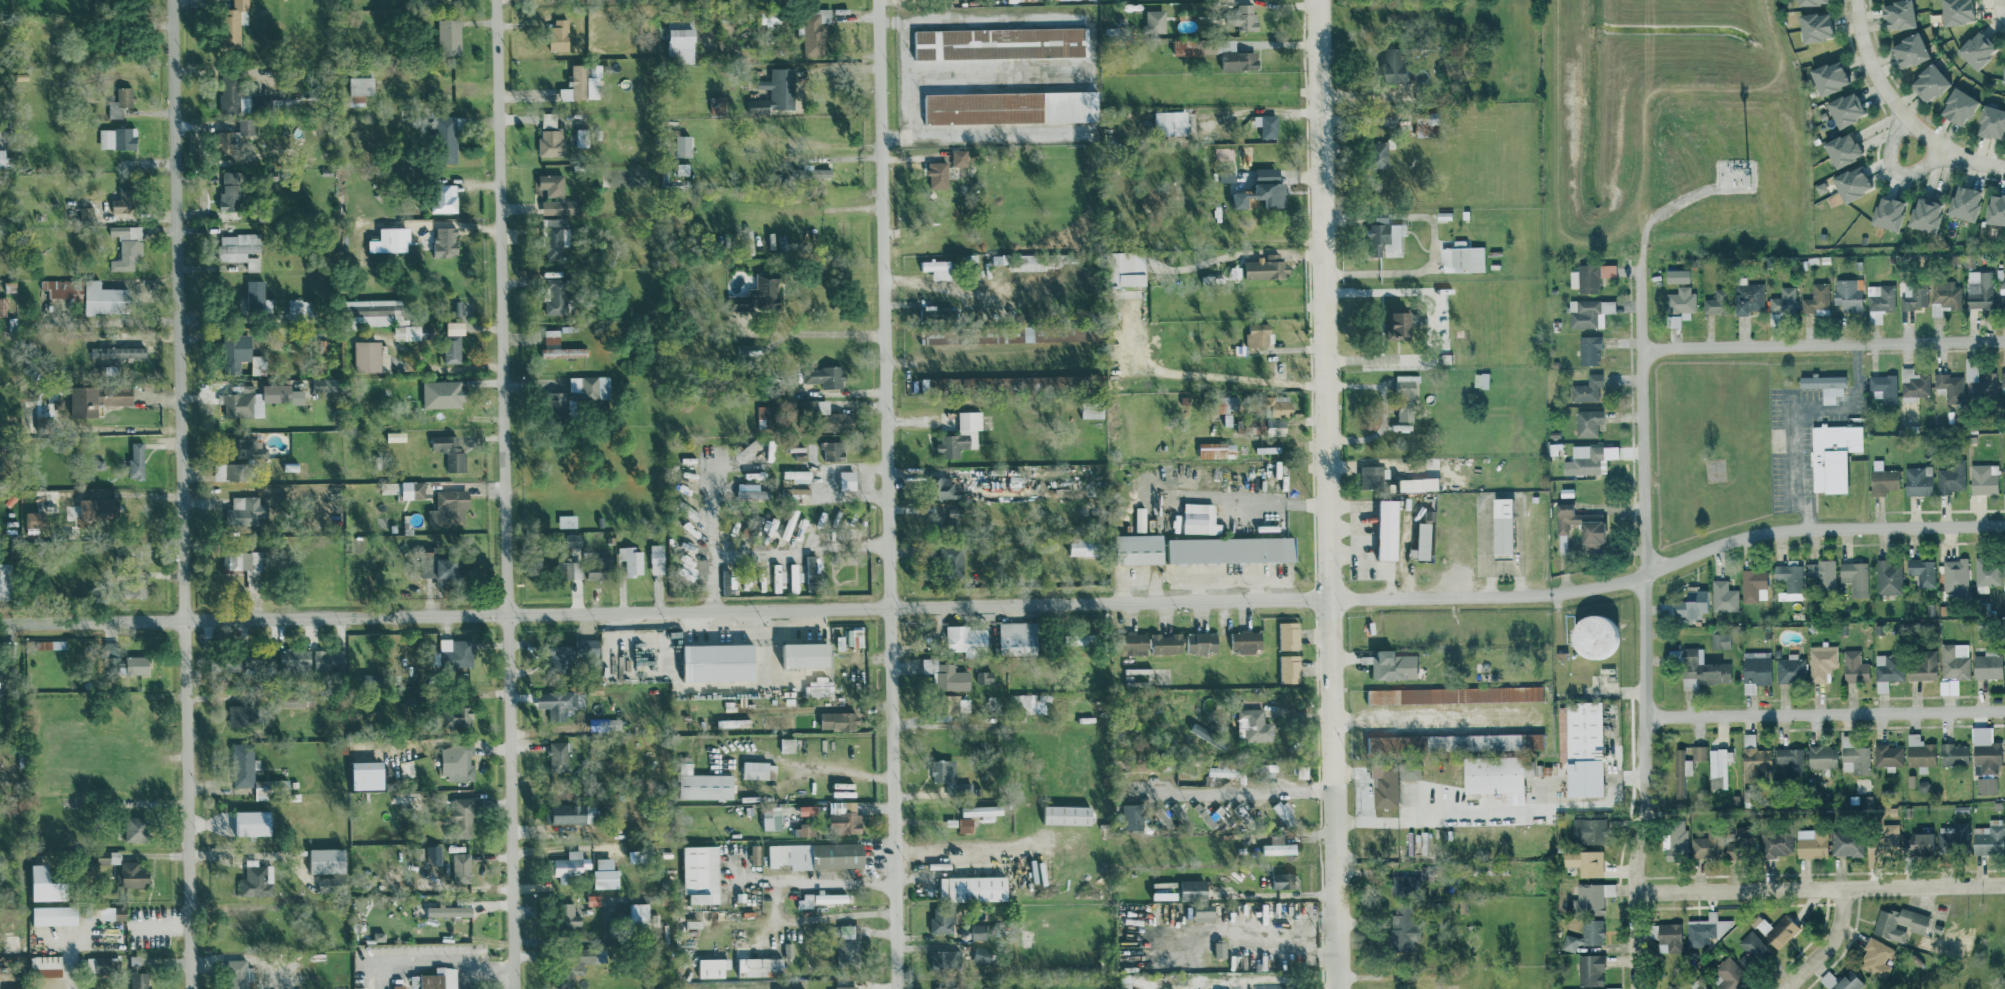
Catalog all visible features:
building: (1025, 0)
building: (1805, 2)
building: (1950, 11)
road: (1999, 11)
building: (1892, 14)
building: (1248, 16)
road: (985, 19)
building: (1156, 20)
road: (2004, 21)
building: (233, 23)
building: (1809, 26)
building: (816, 32)
building: (560, 34)
building: (450, 35)
building: (682, 40)
building: (1000, 42)
building: (1188, 46)
building: (1970, 48)
building: (1903, 50)
building: (1235, 55)
building: (1398, 64)
building: (2001, 67)
road: (1027, 73)
building: (1824, 76)
road: (908, 79)
building: (1923, 82)
building: (584, 83)
building: (361, 87)
building: (230, 91)
building: (776, 92)
building: (121, 102)
building: (1012, 106)
building: (1952, 107)
building: (1841, 108)
road: (1899, 111)
building: (549, 120)
building: (1174, 123)
building: (1268, 125)
building: (234, 136)
road: (985, 136)
building: (581, 137)
building: (117, 138)
building: (446, 139)
building: (552, 142)
building: (1838, 149)
building: (1380, 155)
building: (3, 157)
road: (1894, 169)
building: (817, 172)
building: (941, 174)
building: (1227, 175)
building: (1846, 182)
building: (551, 184)
building: (1265, 189)
building: (230, 191)
building: (445, 197)
building: (123, 199)
building: (1958, 202)
building: (563, 206)
building: (1993, 209)
building: (1918, 214)
building: (556, 238)
building: (390, 239)
building: (1386, 239)
building: (446, 241)
building: (127, 246)
building: (241, 249)
building: (1464, 259)
building: (1268, 267)
building: (939, 268)
building: (1126, 269)
road: (1416, 270)
building: (1610, 270)
building: (1679, 276)
building: (1588, 278)
building: (64, 288)
building: (1976, 289)
road: (1378, 290)
building: (1944, 293)
building: (556, 295)
building: (757, 295)
building: (1845, 295)
building: (1912, 295)
building: (258, 297)
building: (1751, 297)
building: (1880, 297)
building: (105, 298)
building: (1814, 299)
building: (1683, 300)
building: (1781, 301)
building: (1720, 302)
building: (3, 305)
building: (299, 307)
building: (459, 308)
building: (1591, 312)
building: (382, 316)
building: (1402, 324)
building: (456, 327)
road: (812, 333)
building: (1259, 335)
road: (1824, 344)
building: (560, 347)
building: (453, 349)
building: (752, 350)
building: (1591, 350)
building: (117, 352)
building: (236, 352)
building: (368, 356)
road: (1409, 356)
building: (386, 360)
road: (1203, 373)
building: (826, 376)
building: (2001, 379)
building: (1483, 380)
building: (326, 384)
building: (1911, 384)
building: (1981, 384)
building: (1945, 385)
building: (590, 386)
building: (1821, 386)
building: (1590, 388)
building: (1881, 388)
building: (443, 393)
building: (282, 394)
building: (1407, 397)
building: (98, 399)
building: (58, 403)
building: (243, 403)
building: (1232, 403)
building: (1280, 404)
building: (558, 405)
building: (1093, 409)
building: (765, 411)
road: (1795, 414)
building: (830, 415)
building: (1590, 423)
building: (1277, 425)
building: (1403, 427)
building: (962, 435)
building: (397, 436)
building: (834, 450)
building: (1218, 450)
building: (451, 452)
building: (1830, 456)
building: (137, 460)
building: (241, 460)
building: (1587, 460)
building: (799, 475)
building: (1372, 476)
building: (1948, 477)
building: (1981, 478)
building: (2002, 478)
building: (849, 480)
building: (1915, 480)
building: (1423, 484)
building: (946, 487)
building: (414, 490)
building: (751, 491)
road: (183, 494)
road: (502, 494)
building: (797, 494)
road: (889, 494)
road: (1330, 494)
building: (2002, 498)
building: (99, 508)
building: (450, 508)
building: (246, 510)
building: (1141, 519)
building: (1201, 519)
building: (567, 521)
road: (714, 521)
building: (790, 523)
building: (770, 525)
building: (1507, 526)
building: (1585, 526)
road: (1810, 528)
building: (1389, 529)
building: (574, 540)
building: (1425, 541)
building: (1087, 546)
building: (1141, 548)
road: (802, 549)
building: (1233, 550)
building: (954, 556)
building: (657, 558)
building: (632, 560)
building: (246, 565)
building: (439, 566)
building: (566, 570)
building: (596, 571)
building: (1921, 571)
building: (1819, 573)
building: (1985, 575)
building: (1954, 576)
building: (1852, 577)
building: (1887, 577)
building: (1787, 581)
building: (0, 582)
building: (1753, 585)
building: (134, 588)
road: (1478, 593)
building: (1725, 596)
building: (1696, 603)
road: (666, 609)
road: (1643, 622)
building: (857, 635)
building: (1290, 635)
building: (1600, 635)
building: (1019, 637)
building: (967, 638)
building: (1247, 640)
building: (1722, 640)
building: (1203, 642)
building: (1134, 643)
building: (1168, 643)
building: (52, 644)
building: (456, 651)
building: (806, 653)
building: (296, 658)
building: (114, 659)
building: (329, 659)
building: (721, 661)
building: (1819, 661)
building: (1952, 661)
building: (1393, 664)
building: (138, 665)
building: (1919, 665)
building: (1852, 666)
building: (1985, 666)
building: (1290, 668)
building: (1703, 669)
building: (1789, 669)
building: (1758, 670)
building: (1884, 671)
building: (947, 675)
building: (986, 676)
building: (1946, 686)
building: (1456, 694)
building: (299, 697)
building: (560, 702)
building: (1032, 702)
road: (1826, 713)
building: (240, 714)
building: (943, 714)
building: (458, 715)
building: (840, 719)
building: (1254, 725)
building: (1457, 742)
building: (788, 744)
building: (2003, 744)
building: (1585, 746)
building: (1701, 751)
building: (1918, 751)
building: (1982, 751)
building: (1887, 754)
building: (1951, 754)
building: (559, 755)
building: (1826, 756)
building: (1856, 756)
building: (1793, 759)
building: (459, 762)
building: (1759, 762)
building: (244, 764)
building: (1141, 764)
building: (1721, 766)
building: (407, 768)
building: (760, 769)
building: (1229, 770)
building: (1267, 770)
building: (1681, 772)
building: (369, 774)
building: (947, 774)
building: (1499, 774)
road: (849, 775)
building: (1391, 781)
building: (704, 783)
building: (1983, 786)
building: (263, 789)
road: (1259, 792)
building: (1750, 793)
building: (1281, 807)
building: (808, 809)
building: (983, 809)
building: (463, 813)
building: (568, 813)
building: (1069, 813)
building: (1205, 813)
building: (1132, 815)
building: (1173, 815)
building: (773, 819)
building: (847, 821)
building: (254, 822)
building: (966, 824)
building: (136, 828)
building: (807, 828)
building: (1591, 828)
road: (1307, 834)
building: (2004, 834)
building: (1955, 836)
building: (1989, 836)
building: (1850, 841)
building: (1922, 842)
building: (1765, 843)
building: (1816, 843)
building: (1709, 844)
building: (1886, 844)
building: (1281, 845)
road: (965, 846)
building: (756, 854)
building: (818, 854)
building: (109, 856)
building: (329, 859)
building: (1588, 861)
building: (569, 865)
building: (462, 866)
building: (702, 872)
building: (606, 873)
building: (134, 874)
building: (254, 878)
building: (1284, 879)
building: (47, 883)
building: (974, 887)
building: (1195, 888)
road: (1821, 889)
building: (1165, 890)
building: (1594, 897)
building: (821, 898)
road: (778, 901)
building: (248, 908)
building: (449, 910)
building: (640, 911)
building: (113, 912)
building: (1204, 912)
building: (55, 914)
building: (570, 915)
building: (943, 920)
building: (1902, 922)
building: (1405, 925)
building: (248, 927)
building: (1706, 929)
building: (1785, 929)
building: (980, 930)
road: (1244, 933)
building: (1587, 934)
building: (1672, 937)
building: (847, 943)
road: (1833, 945)
building: (1755, 946)
building: (1221, 948)
building: (983, 955)
building: (1878, 956)
building: (946, 958)
building: (580, 961)
road: (436, 962)
building: (100, 963)
building: (46, 965)
building: (761, 965)
building: (712, 966)
building: (1593, 968)
building: (238, 973)
building: (139, 974)
building: (1732, 974)
building: (439, 978)
building: (1843, 980)
building: (400, 986)
building: (844, 987)
building: (944, 987)

